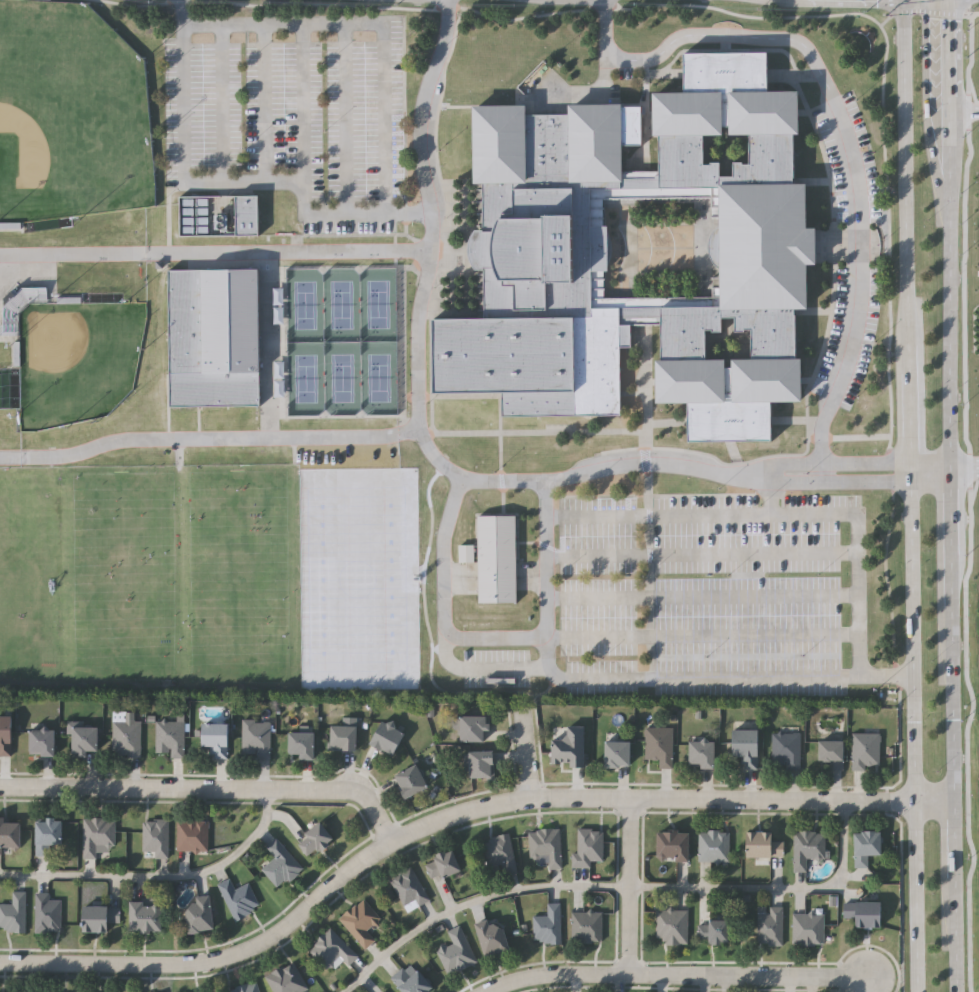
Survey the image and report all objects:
road: (891, 7)
road: (966, 8)
road: (929, 12)
road: (973, 16)
road: (370, 27)
building: (480, 60)
building: (501, 60)
road: (949, 101)
road: (964, 109)
park: (68, 114)
road: (421, 124)
road: (849, 134)
road: (227, 182)
building: (216, 216)
building: (535, 247)
road: (216, 254)
building: (19, 310)
building: (213, 337)
road: (951, 337)
road: (419, 339)
park: (74, 360)
road: (209, 440)
road: (887, 464)
road: (789, 465)
road: (654, 466)
road: (965, 471)
road: (931, 477)
road: (470, 480)
road: (866, 484)
road: (792, 485)
road: (911, 495)
road: (657, 517)
road: (952, 548)
building: (495, 560)
road: (854, 563)
park: (239, 576)
park: (122, 577)
park: (355, 578)
road: (496, 639)
road: (686, 676)
road: (952, 712)
building: (470, 728)
building: (8, 736)
building: (126, 736)
building: (170, 737)
building: (341, 737)
building: (384, 737)
building: (214, 739)
building: (81, 740)
building: (255, 740)
building: (43, 742)
building: (299, 744)
building: (658, 746)
building: (745, 747)
building: (567, 748)
road: (520, 751)
building: (786, 751)
building: (866, 751)
building: (830, 753)
building: (700, 754)
building: (615, 755)
building: (479, 764)
building: (408, 781)
road: (204, 784)
road: (454, 808)
building: (11, 835)
building: (50, 835)
building: (192, 835)
building: (98, 838)
building: (155, 839)
building: (314, 839)
building: (761, 845)
building: (546, 846)
building: (671, 846)
building: (714, 846)
building: (865, 846)
building: (589, 848)
building: (807, 848)
road: (953, 850)
building: (500, 853)
building: (280, 864)
building: (442, 865)
road: (159, 875)
road: (629, 884)
road: (774, 886)
building: (409, 889)
building: (239, 898)
road: (471, 899)
building: (49, 913)
building: (15, 914)
building: (862, 914)
building: (198, 915)
building: (97, 917)
building: (144, 917)
building: (361, 922)
building: (770, 925)
building: (548, 926)
building: (587, 927)
building: (672, 927)
building: (808, 930)
building: (715, 932)
building: (490, 938)
road: (954, 946)
building: (331, 949)
building: (456, 952)
road: (675, 974)
building: (286, 979)
building: (409, 980)
building: (246, 988)
building: (383, 991)

